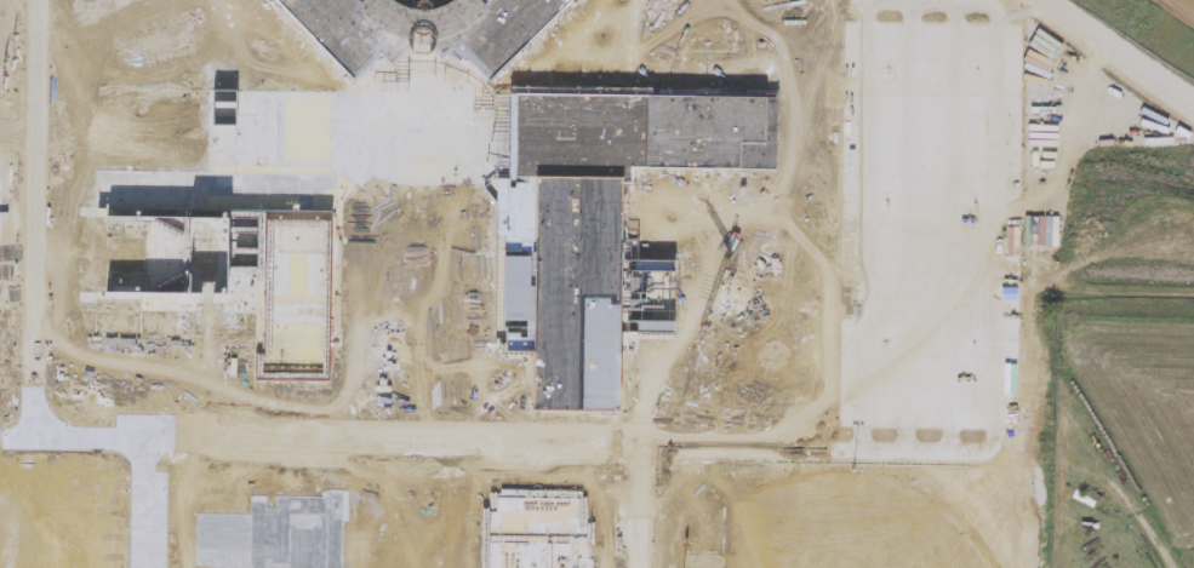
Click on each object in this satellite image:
road: (1184, 6)
road: (115, 13)
road: (1149, 28)
road: (17, 132)
building: (218, 206)
road: (34, 219)
road: (862, 228)
road: (908, 228)
road: (952, 229)
road: (995, 234)
road: (898, 275)
road: (800, 305)
road: (16, 440)
road: (87, 440)
road: (385, 441)
park: (840, 527)
building: (533, 533)
building: (274, 535)

